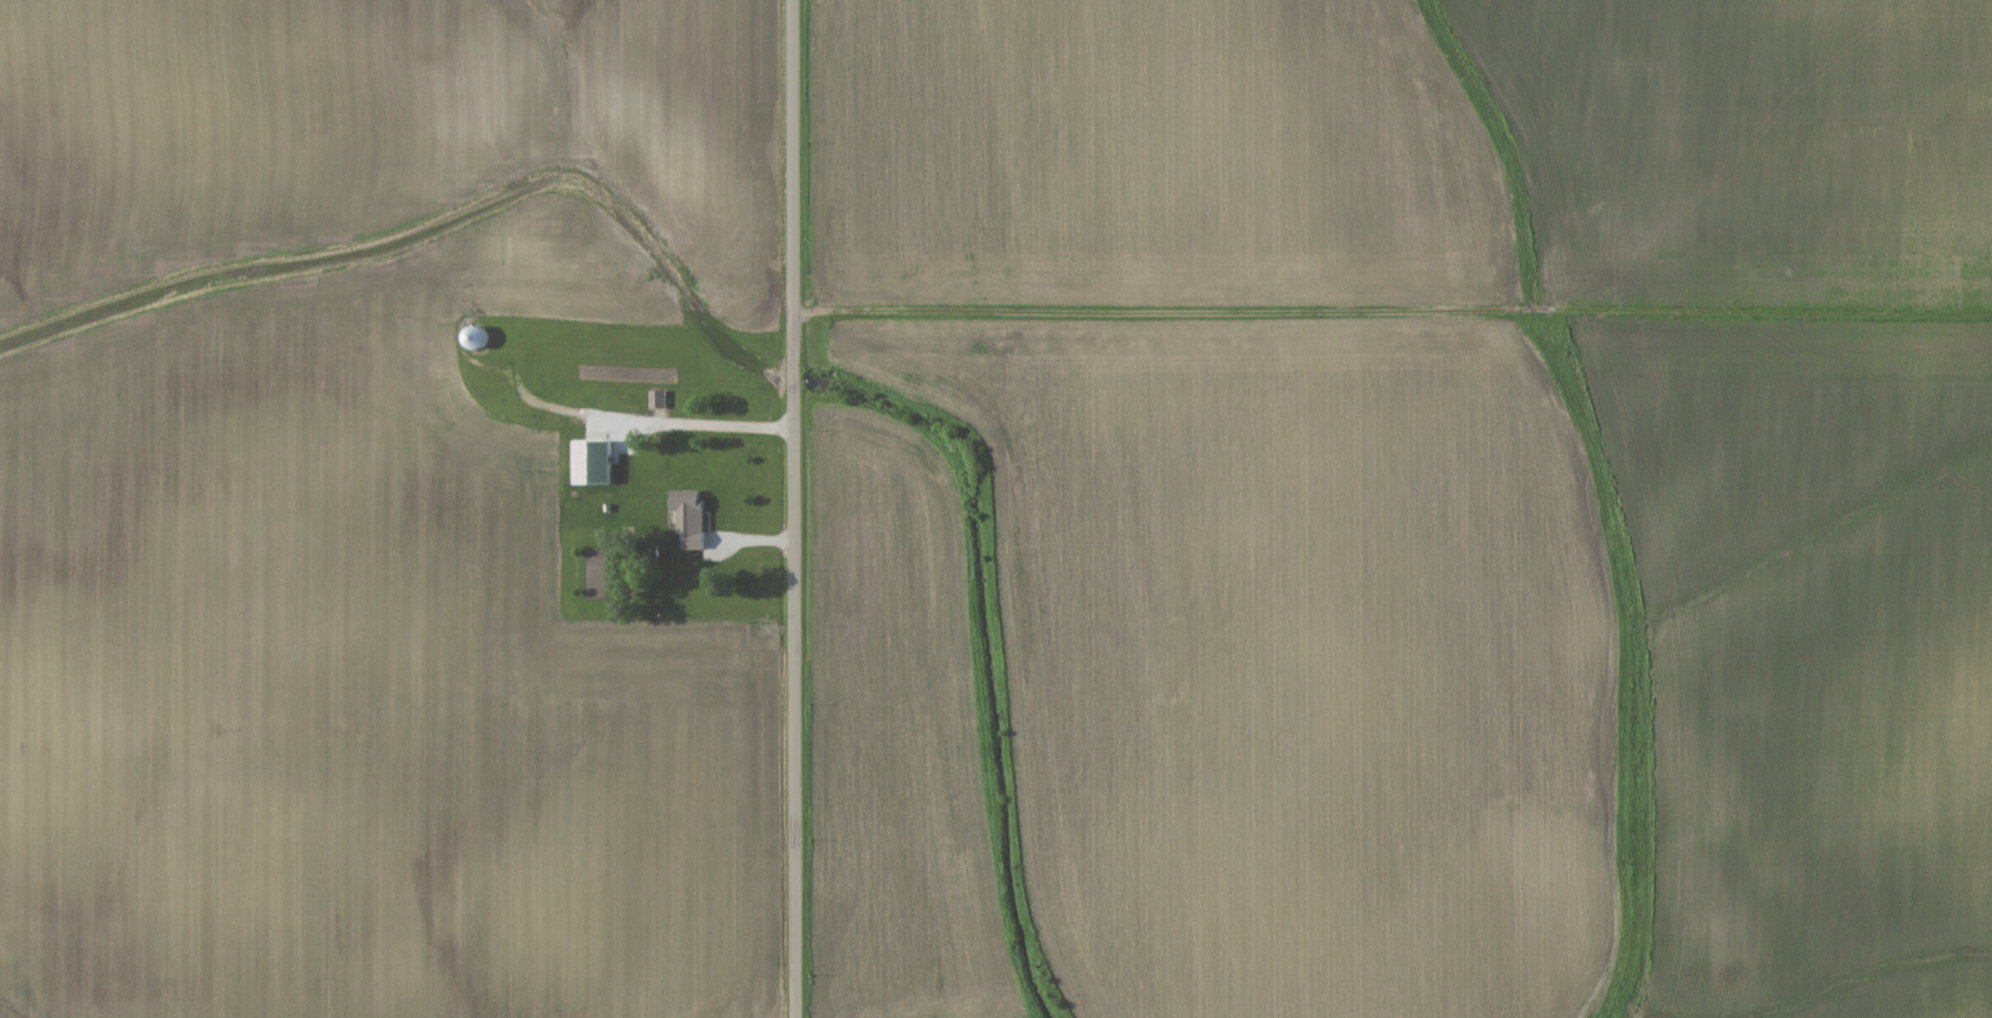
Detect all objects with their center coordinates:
building: (662, 401)
road: (709, 426)
road: (797, 508)

